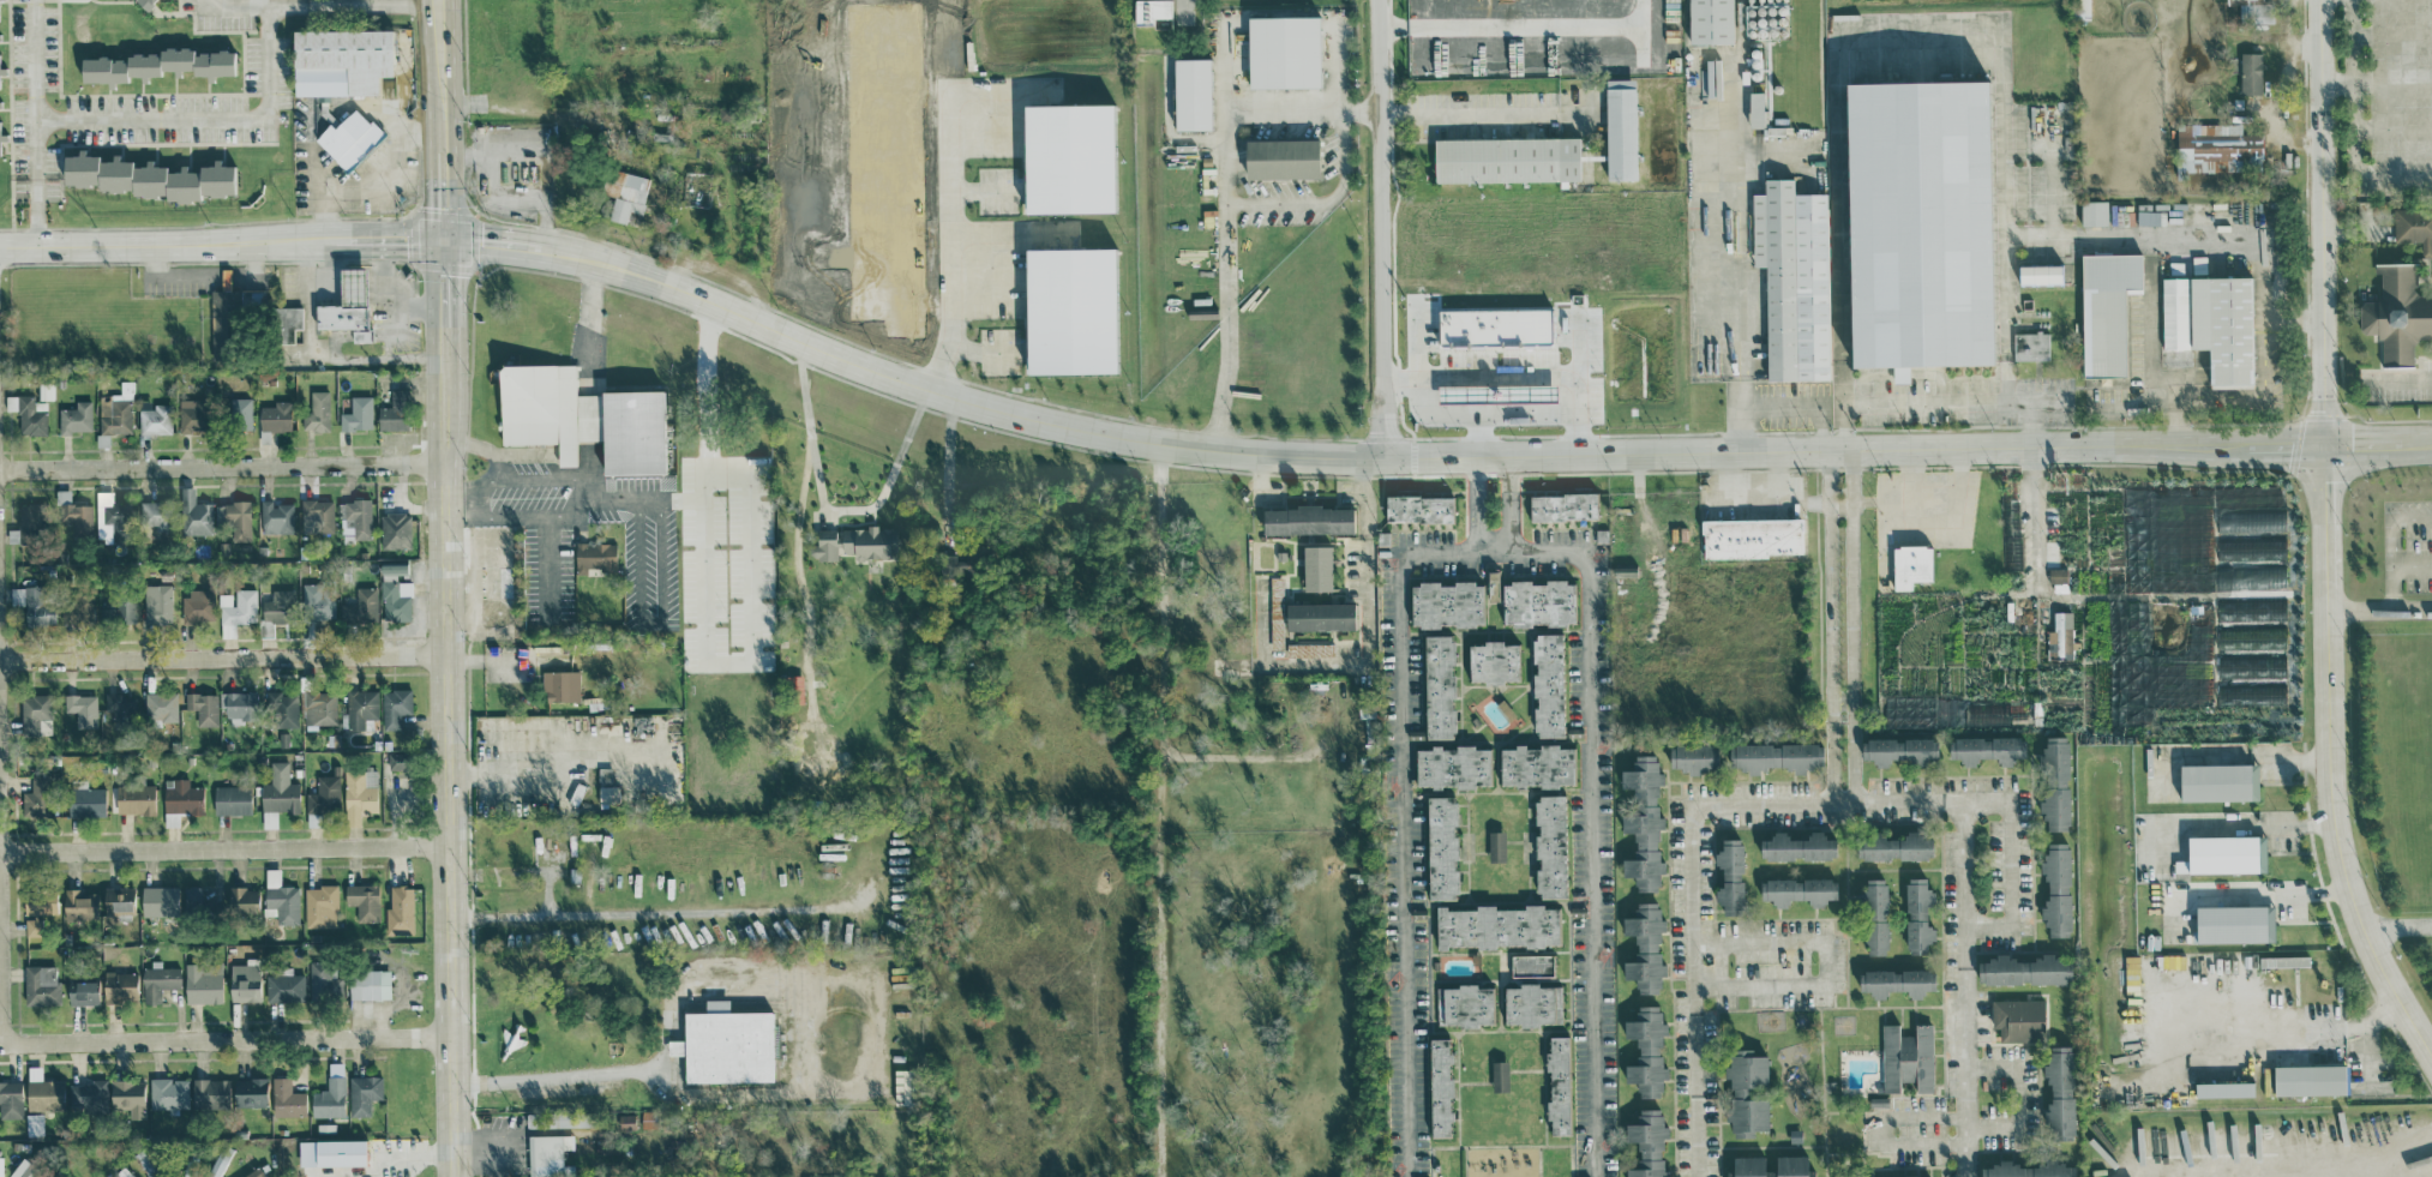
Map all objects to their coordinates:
building: (144, 2)
building: (2082, 8)
building: (1151, 10)
building: (2256, 10)
road: (307, 11)
building: (1710, 20)
road: (1922, 41)
road: (2352, 41)
building: (1283, 50)
building: (340, 60)
building: (156, 64)
road: (425, 64)
road: (452, 64)
building: (2251, 72)
road: (2377, 80)
building: (0, 84)
building: (1191, 92)
building: (1757, 108)
road: (1286, 112)
road: (1477, 113)
road: (1226, 118)
road: (35, 121)
road: (206, 125)
road: (2394, 127)
building: (1621, 128)
building: (349, 138)
road: (440, 138)
building: (2217, 148)
road: (380, 156)
building: (1068, 157)
building: (1280, 157)
building: (1506, 158)
road: (2396, 174)
building: (146, 176)
road: (2361, 176)
building: (624, 192)
road: (318, 193)
road: (442, 194)
road: (1326, 199)
building: (2094, 211)
road: (2324, 221)
building: (1918, 222)
building: (2414, 226)
road: (1381, 228)
road: (389, 239)
traffic signals: (443, 239)
road: (168, 241)
road: (491, 242)
road: (950, 245)
road: (2185, 245)
building: (2040, 274)
road: (168, 276)
building: (1794, 277)
road: (443, 282)
road: (391, 289)
building: (347, 306)
building: (1069, 310)
building: (2107, 310)
building: (2174, 312)
road: (590, 316)
building: (2397, 316)
building: (286, 323)
road: (386, 323)
building: (1493, 325)
building: (2223, 325)
building: (2030, 344)
road: (319, 354)
road: (1515, 378)
road: (2397, 378)
building: (46, 390)
road: (1781, 397)
road: (2185, 400)
road: (1939, 401)
building: (115, 410)
building: (239, 412)
building: (317, 412)
building: (394, 412)
building: (26, 414)
building: (191, 414)
building: (358, 414)
building: (275, 416)
building: (76, 418)
building: (581, 418)
building: (154, 419)
road: (482, 446)
road: (1469, 456)
road: (707, 457)
road: (1728, 458)
road: (222, 463)
road: (948, 469)
road: (588, 496)
road: (456, 499)
road: (1475, 502)
road: (1508, 502)
building: (1562, 505)
road: (870, 508)
building: (1419, 508)
road: (2044, 512)
building: (73, 514)
building: (154, 514)
building: (194, 514)
building: (276, 516)
building: (316, 516)
building: (235, 517)
building: (109, 518)
building: (355, 520)
building: (1307, 520)
building: (29, 521)
building: (395, 529)
building: (1752, 538)
building: (867, 541)
road: (2391, 542)
building: (823, 545)
road: (793, 550)
building: (594, 556)
road: (550, 559)
building: (949, 560)
building: (1911, 564)
building: (1316, 568)
building: (1493, 586)
road: (2392, 588)
building: (395, 593)
building: (1537, 601)
building: (318, 602)
building: (157, 603)
building: (1446, 603)
building: (32, 605)
building: (197, 606)
building: (278, 606)
building: (361, 606)
road: (2412, 606)
road: (2361, 607)
building: (79, 608)
building: (120, 609)
building: (236, 609)
building: (1275, 612)
building: (1319, 615)
road: (1846, 626)
road: (1367, 638)
building: (2059, 641)
road: (751, 649)
building: (1309, 649)
road: (223, 655)
building: (1493, 661)
building: (1548, 684)
building: (560, 685)
building: (1439, 686)
building: (793, 689)
building: (119, 705)
building: (161, 705)
building: (238, 705)
building: (82, 707)
building: (203, 707)
building: (395, 707)
building: (283, 708)
building: (319, 708)
building: (361, 708)
building: (35, 714)
building: (1988, 749)
building: (1899, 750)
road: (449, 751)
building: (1776, 756)
building: (1693, 757)
road: (2332, 758)
building: (396, 761)
building: (1536, 765)
building: (1453, 767)
building: (2055, 782)
building: (2218, 782)
building: (280, 789)
building: (608, 794)
building: (37, 795)
building: (134, 798)
building: (323, 798)
building: (85, 799)
building: (181, 799)
building: (232, 799)
road: (1858, 804)
road: (1598, 805)
road: (1158, 809)
building: (269, 818)
building: (1643, 822)
road: (1403, 823)
road: (2241, 823)
building: (1496, 845)
building: (1550, 846)
building: (1797, 846)
road: (226, 847)
building: (1441, 847)
building: (1893, 847)
building: (2224, 854)
building: (1730, 876)
road: (2023, 889)
building: (2056, 889)
building: (1799, 890)
road: (2257, 891)
building: (281, 897)
building: (118, 899)
building: (244, 899)
building: (158, 900)
building: (193, 900)
building: (364, 900)
building: (38, 902)
building: (79, 903)
building: (320, 906)
building: (400, 909)
building: (1917, 914)
road: (657, 915)
building: (1874, 915)
building: (2234, 923)
road: (2397, 925)
building: (31, 926)
building: (1497, 926)
building: (1645, 947)
building: (2283, 961)
road: (1821, 962)
building: (1531, 965)
building: (2025, 969)
building: (324, 979)
building: (1897, 981)
building: (157, 983)
building: (245, 983)
building: (368, 984)
building: (41, 985)
building: (203, 985)
building: (119, 986)
building: (286, 987)
road: (1971, 989)
building: (82, 992)
road: (1701, 993)
building: (1532, 1004)
building: (1465, 1005)
building: (2018, 1019)
road: (2282, 1031)
road: (801, 1039)
road: (227, 1040)
building: (725, 1044)
building: (1646, 1051)
building: (1906, 1057)
building: (1499, 1075)
building: (2310, 1080)
building: (1557, 1085)
building: (902, 1086)
building: (1440, 1087)
building: (2224, 1088)
building: (42, 1091)
road: (894, 1091)
building: (250, 1092)
building: (2059, 1092)
building: (169, 1093)
building: (210, 1093)
building: (364, 1093)
building: (1746, 1093)
building: (86, 1097)
building: (128, 1097)
building: (287, 1098)
building: (329, 1098)
building: (10, 1099)
road: (1963, 1118)
building: (625, 1121)
building: (34, 1124)
building: (1647, 1143)
building: (340, 1152)
building: (545, 1154)
road: (2418, 1154)
building: (218, 1161)
building: (1748, 1163)
building: (0, 1165)
building: (23, 1169)
building: (2028, 1170)
building: (254, 1172)

